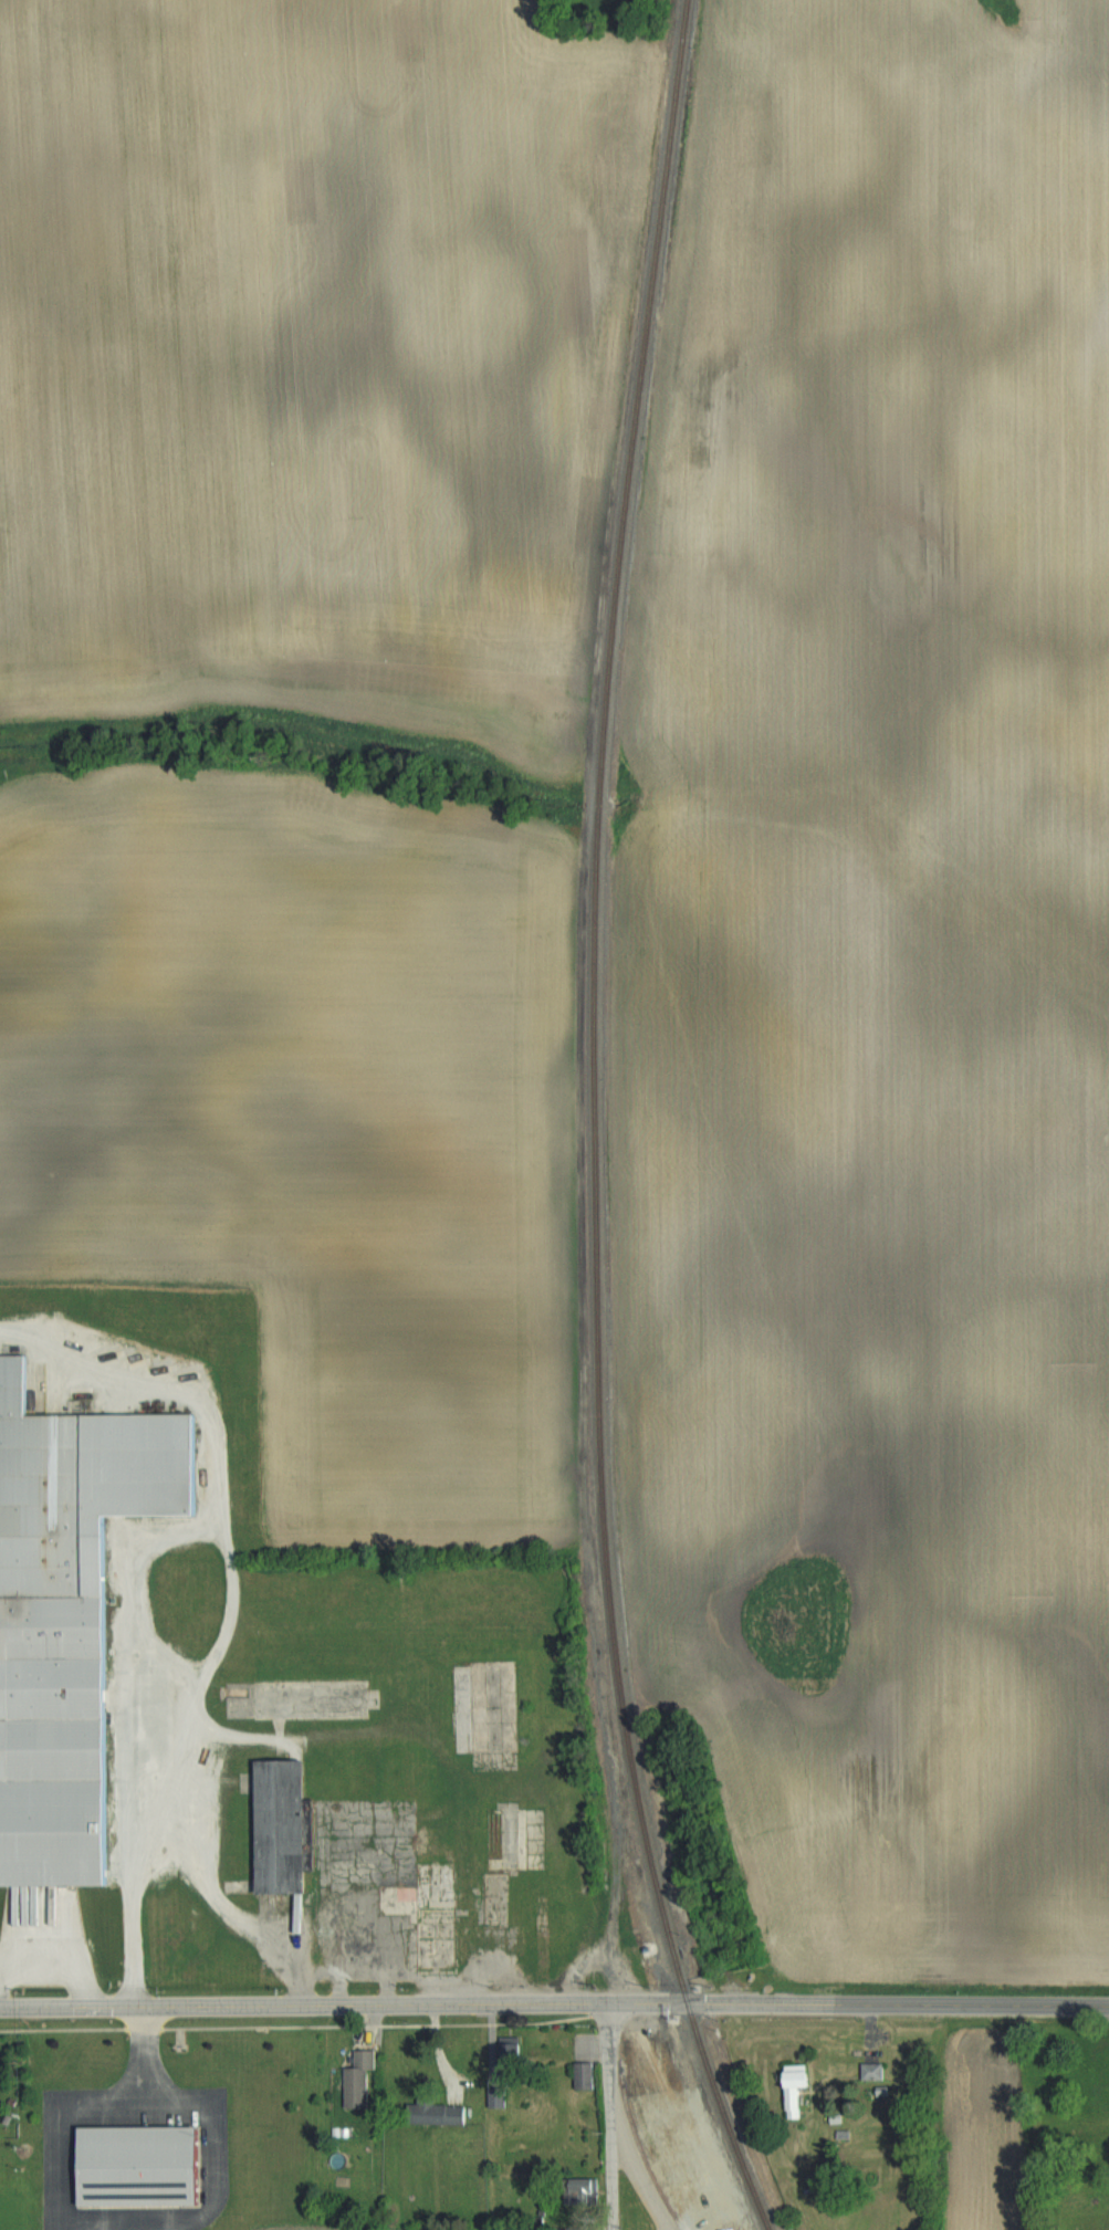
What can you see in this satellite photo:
railway: (596, 1123)
road: (234, 1611)
building: (65, 1620)
building: (314, 1695)
building: (495, 1705)
building: (282, 1825)
building: (520, 1838)
road: (229, 1903)
building: (433, 1912)
road: (362, 2003)
road: (917, 2003)
building: (867, 2070)
building: (787, 2073)
building: (585, 2075)
building: (360, 2079)
building: (501, 2092)
road: (81, 2107)
building: (442, 2112)
road: (611, 2115)
road: (215, 2140)
building: (139, 2169)
road: (640, 2173)
building: (1071, 2189)
building: (10, 2215)

